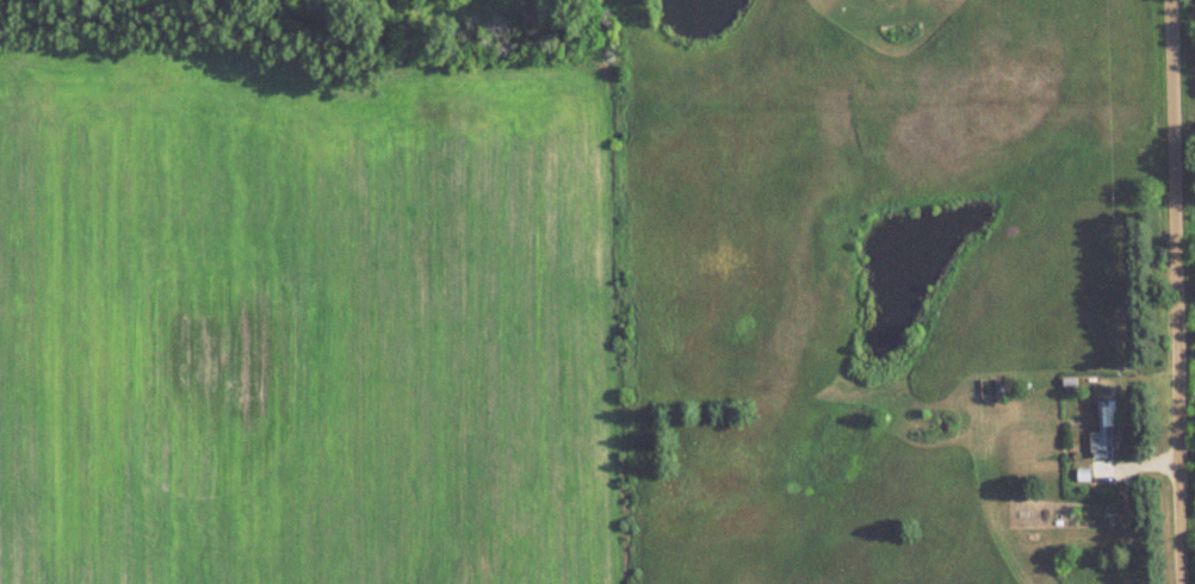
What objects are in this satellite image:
road: (1172, 292)
building: (1107, 428)

